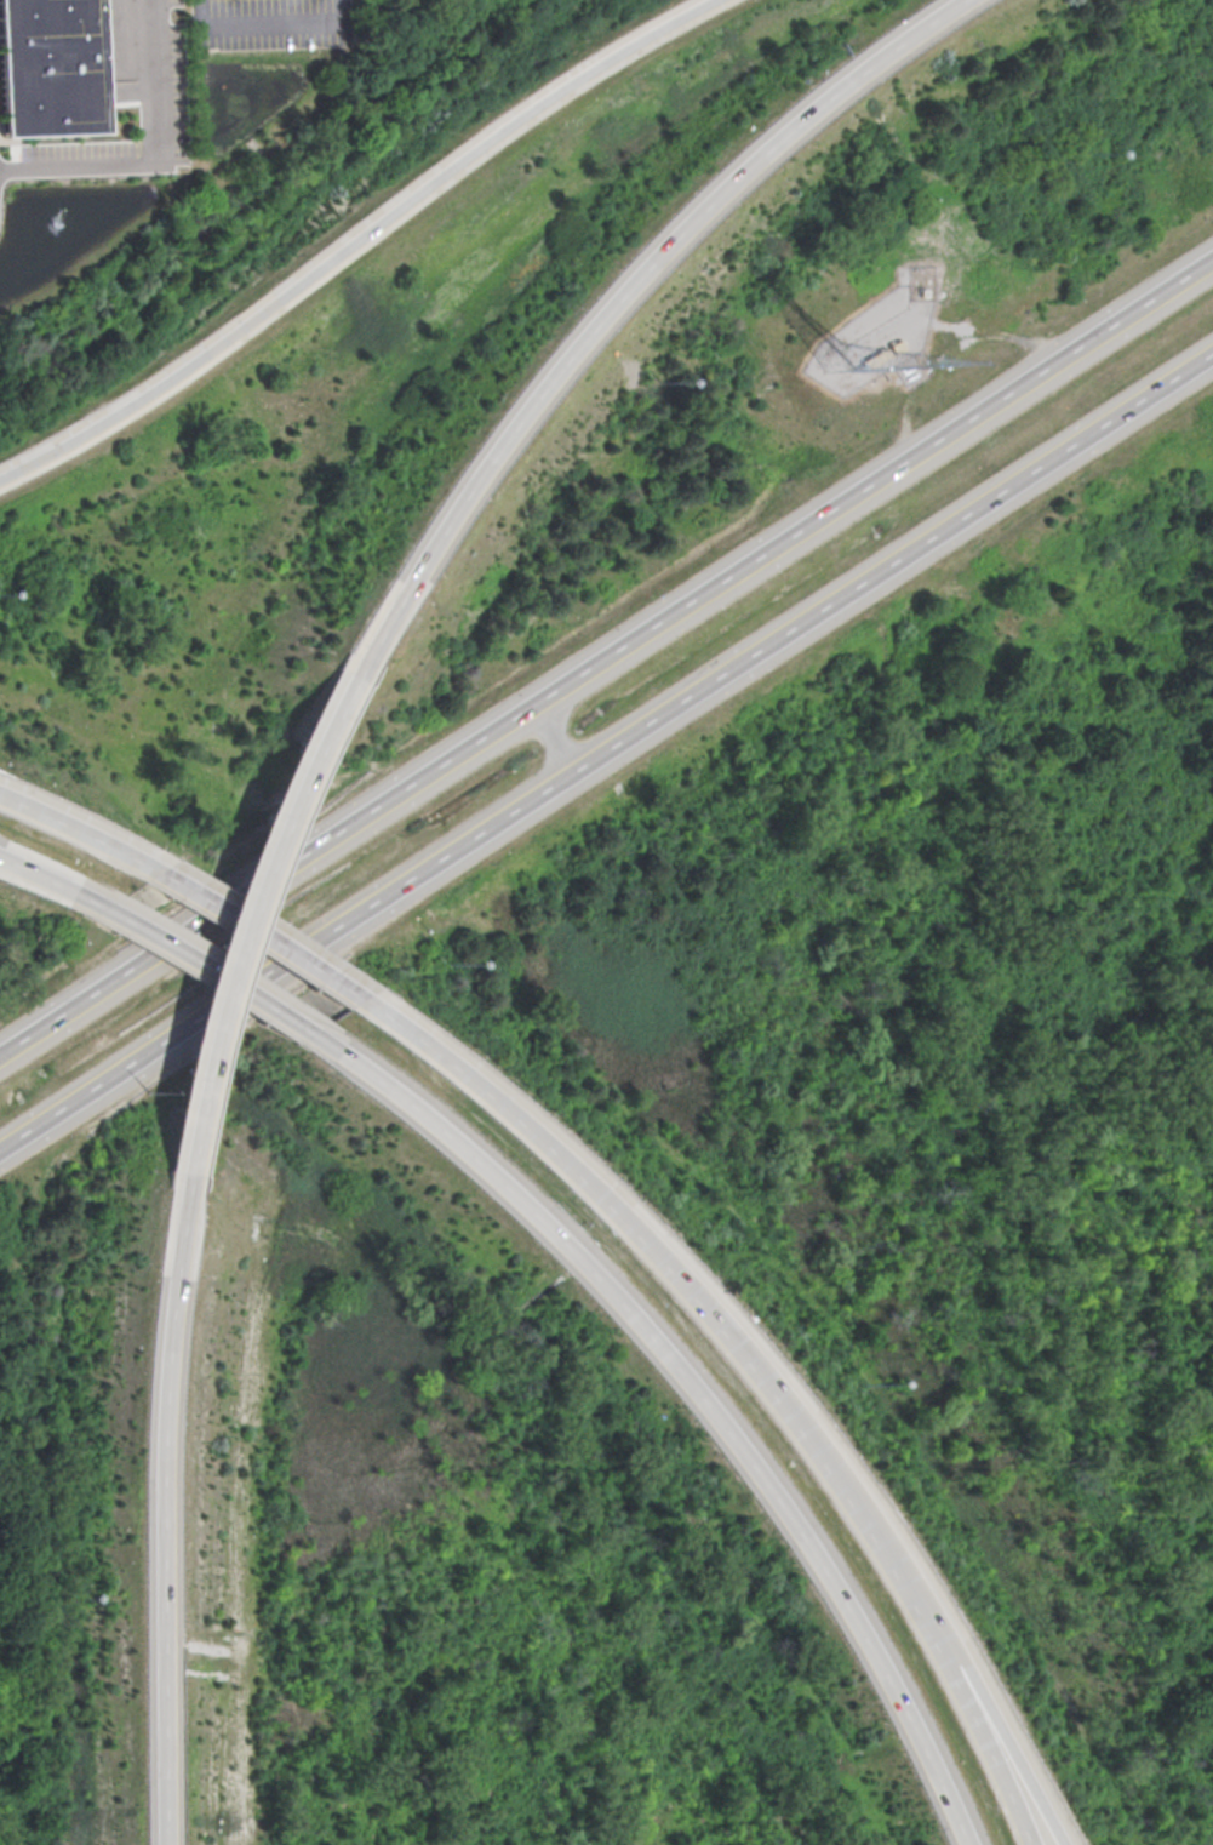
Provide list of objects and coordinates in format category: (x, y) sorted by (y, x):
road: (269, 24)
building: (48, 68)
road: (155, 155)
road: (354, 240)
road: (602, 297)
building: (894, 345)
building: (874, 358)
road: (606, 656)
road: (304, 746)
road: (607, 750)
road: (67, 828)
road: (50, 881)
road: (253, 927)
road: (225, 979)
road: (214, 993)
road: (682, 1295)
road: (704, 1413)
road: (151, 1508)
road: (977, 1743)
road: (989, 1744)

